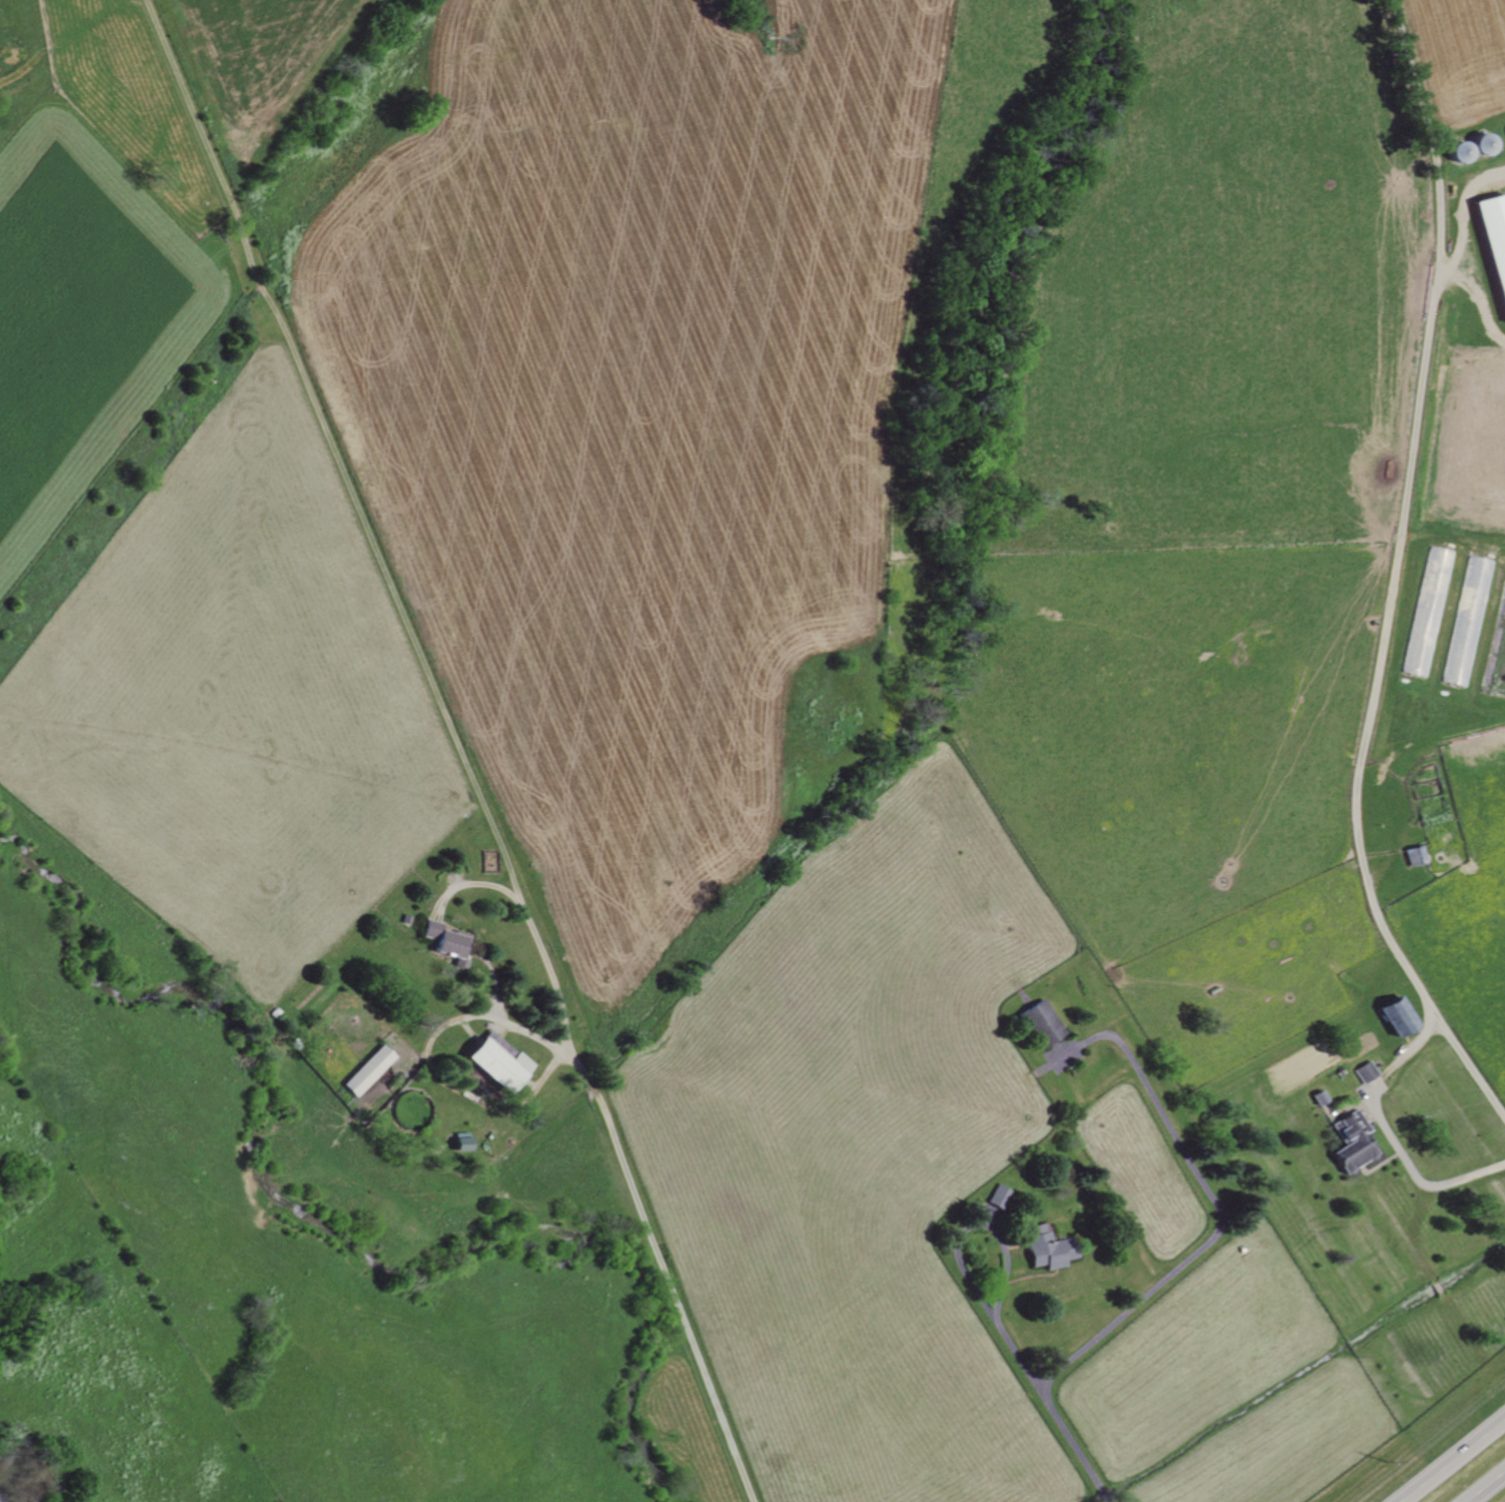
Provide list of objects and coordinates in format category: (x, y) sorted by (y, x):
building: (1496, 235)
road: (1426, 440)
building: (1429, 612)
building: (1468, 621)
road: (457, 747)
building: (1416, 855)
building: (448, 941)
road: (1431, 990)
building: (1399, 1016)
building: (1044, 1023)
building: (498, 1062)
road: (428, 1067)
building: (370, 1070)
building: (1365, 1072)
road: (1390, 1117)
building: (463, 1141)
building: (1353, 1142)
building: (1001, 1196)
road: (1209, 1198)
building: (1050, 1248)
road: (1046, 1380)
road: (1448, 1457)
road: (1483, 1484)

